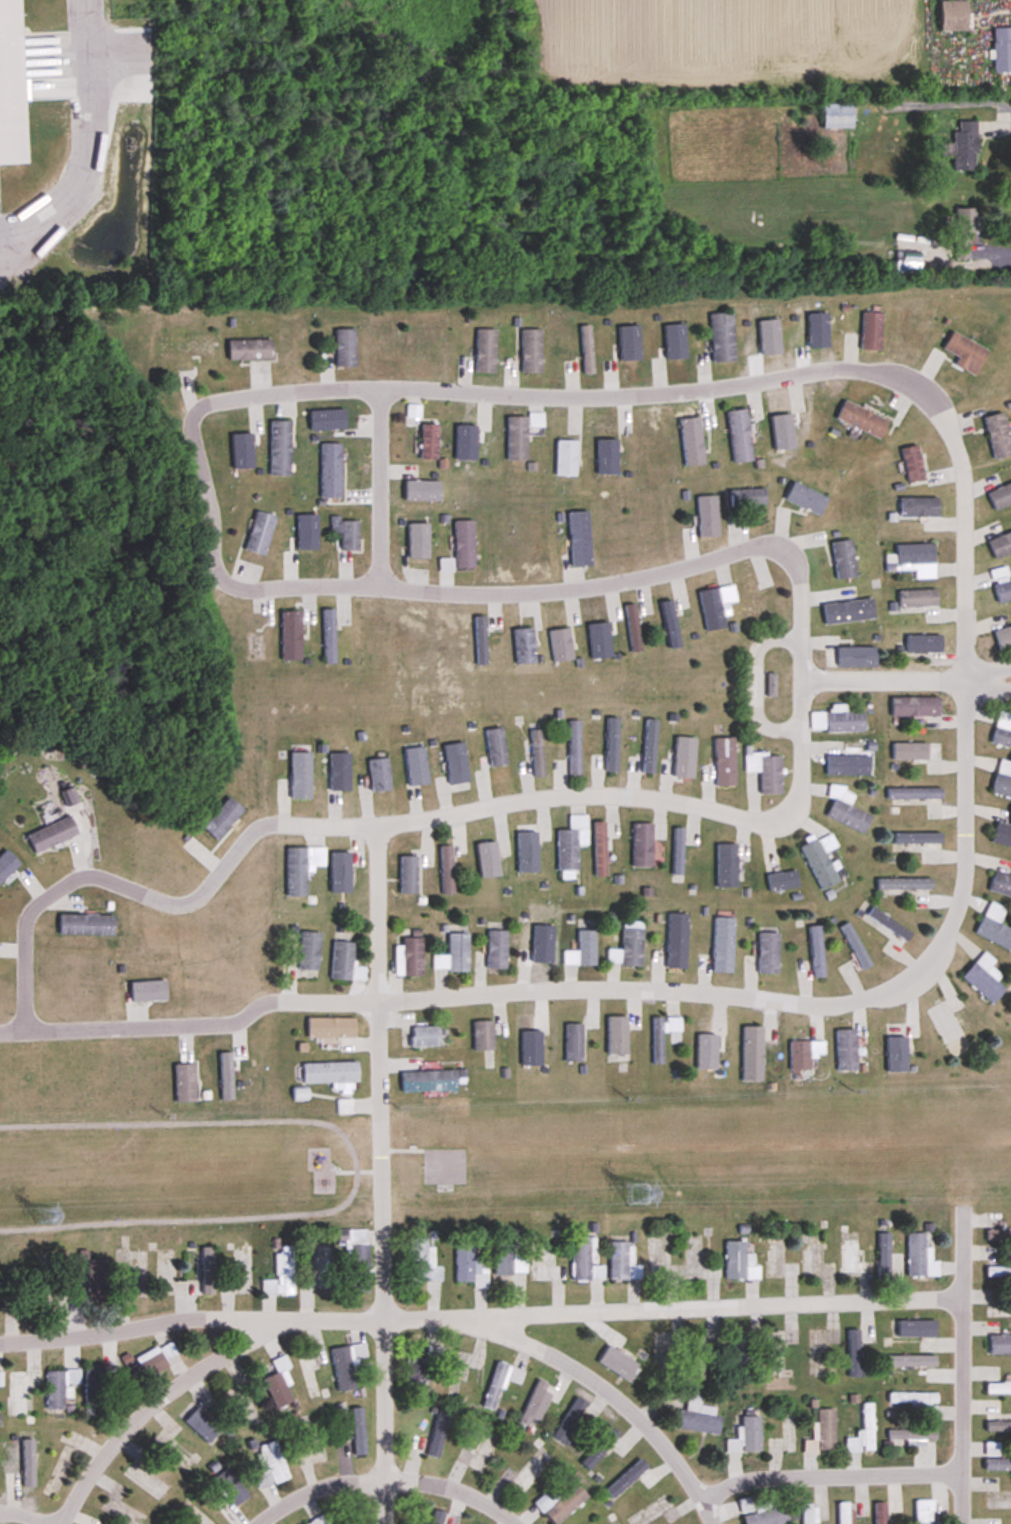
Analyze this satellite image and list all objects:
building: (952, 17)
building: (1002, 51)
building: (10, 86)
road: (980, 100)
building: (836, 117)
road: (87, 140)
building: (964, 146)
building: (963, 232)
road: (998, 247)
building: (907, 258)
building: (870, 330)
building: (722, 337)
building: (186, 346)
building: (345, 347)
building: (961, 348)
building: (249, 349)
building: (587, 349)
building: (485, 350)
building: (530, 350)
road: (710, 388)
building: (861, 419)
building: (997, 435)
building: (739, 436)
building: (516, 438)
building: (429, 441)
building: (691, 441)
building: (279, 447)
building: (566, 457)
building: (912, 463)
building: (330, 470)
road: (378, 487)
building: (1000, 496)
building: (747, 497)
building: (805, 498)
building: (918, 506)
building: (707, 515)
building: (259, 532)
building: (346, 532)
building: (579, 537)
building: (464, 544)
building: (1000, 544)
building: (843, 559)
building: (915, 559)
building: (1001, 584)
road: (484, 594)
building: (917, 597)
building: (716, 606)
building: (848, 611)
building: (670, 624)
building: (633, 627)
building: (291, 635)
building: (329, 636)
building: (1003, 637)
building: (480, 641)
building: (923, 643)
building: (561, 644)
building: (524, 646)
road: (985, 671)
road: (883, 681)
road: (752, 683)
road: (986, 691)
building: (915, 706)
building: (844, 721)
building: (1002, 730)
building: (610, 746)
building: (649, 746)
building: (495, 747)
building: (574, 748)
building: (537, 753)
building: (924, 755)
building: (680, 760)
building: (724, 762)
building: (416, 766)
building: (848, 766)
building: (456, 768)
building: (339, 772)
building: (766, 772)
building: (300, 775)
building: (379, 775)
building: (1002, 779)
building: (913, 793)
building: (69, 796)
building: (845, 809)
building: (222, 818)
road: (395, 823)
building: (52, 834)
building: (1002, 835)
building: (922, 842)
building: (571, 843)
building: (642, 845)
building: (599, 849)
building: (677, 851)
building: (488, 858)
building: (820, 860)
building: (8, 864)
building: (726, 865)
building: (301, 868)
building: (344, 868)
building: (408, 875)
building: (782, 881)
building: (903, 883)
building: (1001, 885)
building: (86, 924)
building: (888, 924)
building: (994, 928)
building: (542, 939)
building: (677, 941)
building: (723, 945)
building: (628, 946)
building: (854, 946)
building: (586, 948)
building: (496, 949)
building: (309, 951)
building: (816, 952)
building: (767, 953)
building: (454, 954)
building: (409, 958)
building: (342, 961)
building: (983, 979)
building: (148, 989)
road: (611, 991)
building: (332, 1028)
building: (946, 1029)
building: (483, 1035)
building: (617, 1035)
building: (662, 1035)
building: (425, 1036)
building: (527, 1041)
building: (573, 1043)
building: (704, 1046)
building: (896, 1047)
building: (845, 1050)
building: (752, 1054)
building: (804, 1054)
road: (379, 1072)
building: (330, 1073)
building: (430, 1081)
building: (185, 1083)
power tower: (636, 1193)
power tower: (43, 1213)
building: (998, 1235)
building: (810, 1254)
building: (508, 1257)
building: (851, 1257)
building: (919, 1257)
building: (584, 1261)
building: (423, 1262)
building: (740, 1262)
building: (623, 1263)
building: (545, 1264)
building: (469, 1265)
building: (359, 1268)
building: (324, 1269)
building: (208, 1272)
building: (998, 1272)
building: (281, 1274)
building: (97, 1282)
building: (19, 1292)
road: (673, 1308)
building: (998, 1312)
road: (190, 1316)
building: (853, 1353)
building: (741, 1358)
building: (620, 1359)
building: (699, 1359)
building: (911, 1361)
building: (347, 1365)
building: (419, 1367)
building: (145, 1370)
road: (579, 1371)
road: (192, 1373)
building: (310, 1378)
building: (0, 1379)
building: (98, 1383)
building: (500, 1383)
building: (59, 1387)
building: (998, 1389)
building: (21, 1391)
building: (536, 1403)
building: (917, 1403)
road: (962, 1411)
building: (698, 1417)
building: (867, 1419)
road: (383, 1421)
building: (573, 1425)
building: (203, 1426)
building: (998, 1427)
building: (358, 1432)
building: (822, 1434)
building: (437, 1436)
building: (783, 1436)
building: (747, 1437)
building: (913, 1437)
building: (480, 1450)
building: (601, 1450)
building: (271, 1465)
building: (997, 1465)
building: (526, 1475)
road: (829, 1475)
road: (387, 1477)
building: (627, 1480)
building: (232, 1487)
building: (561, 1504)
building: (924, 1511)
building: (762, 1513)
building: (843, 1513)
building: (880, 1513)
building: (808, 1514)
building: (182, 1516)
road: (20, 1517)
building: (320, 1520)

